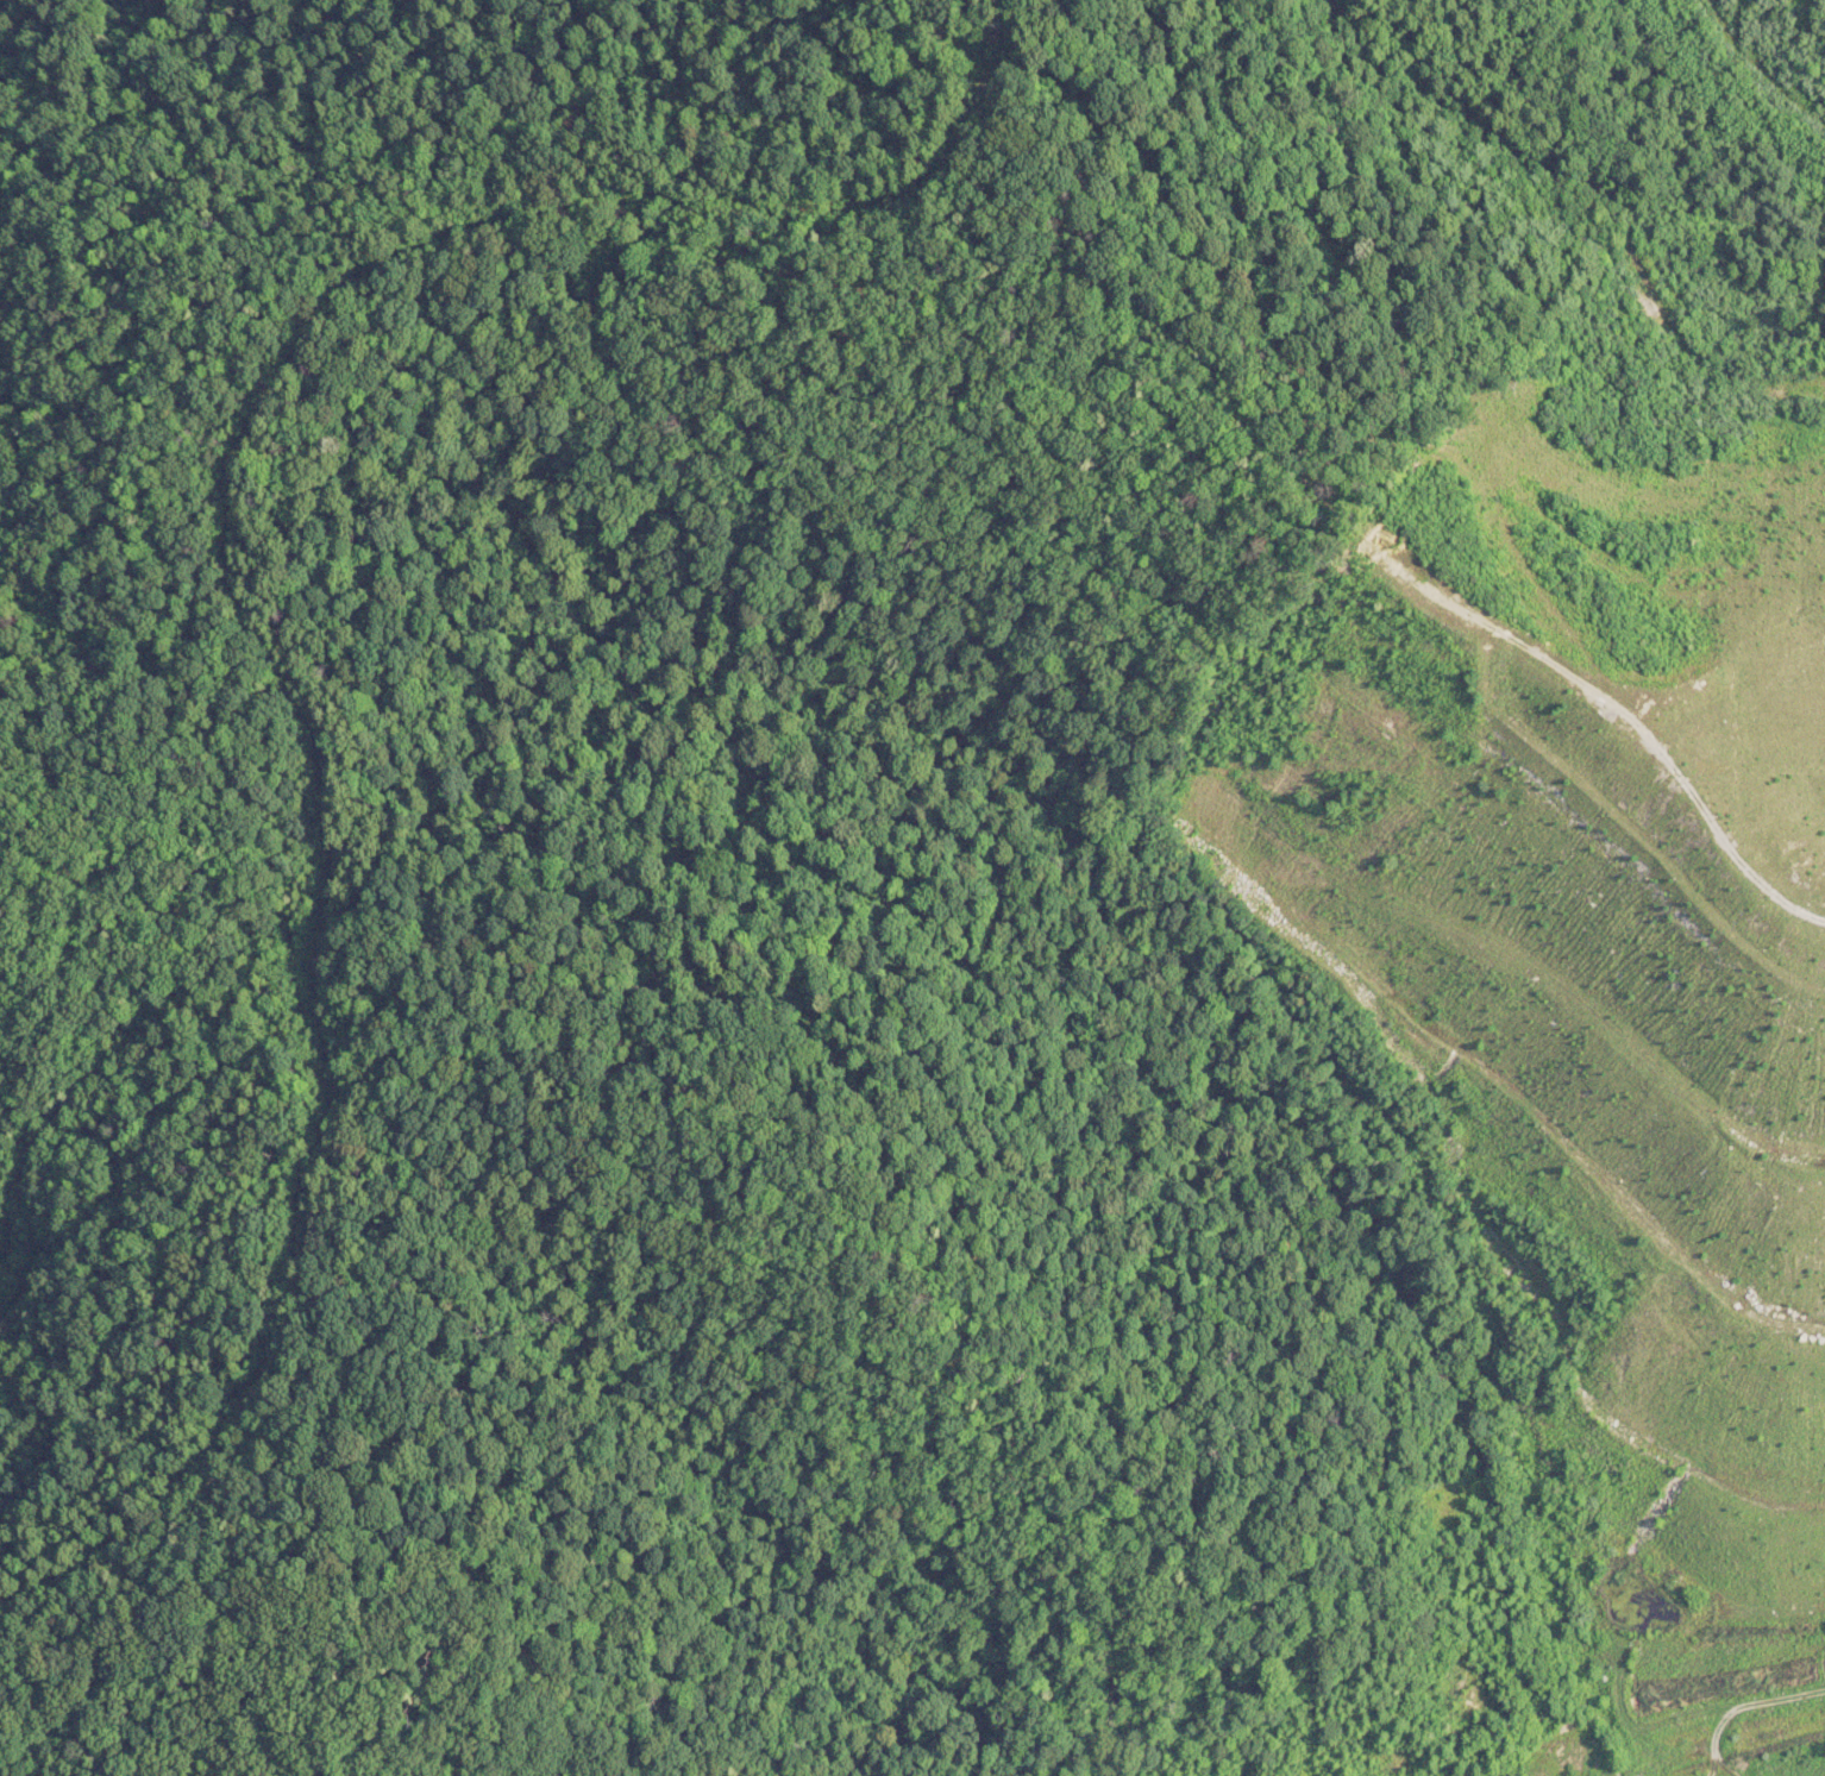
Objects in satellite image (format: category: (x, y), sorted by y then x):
road: (327, 608)
quarry: (1588, 1004)

